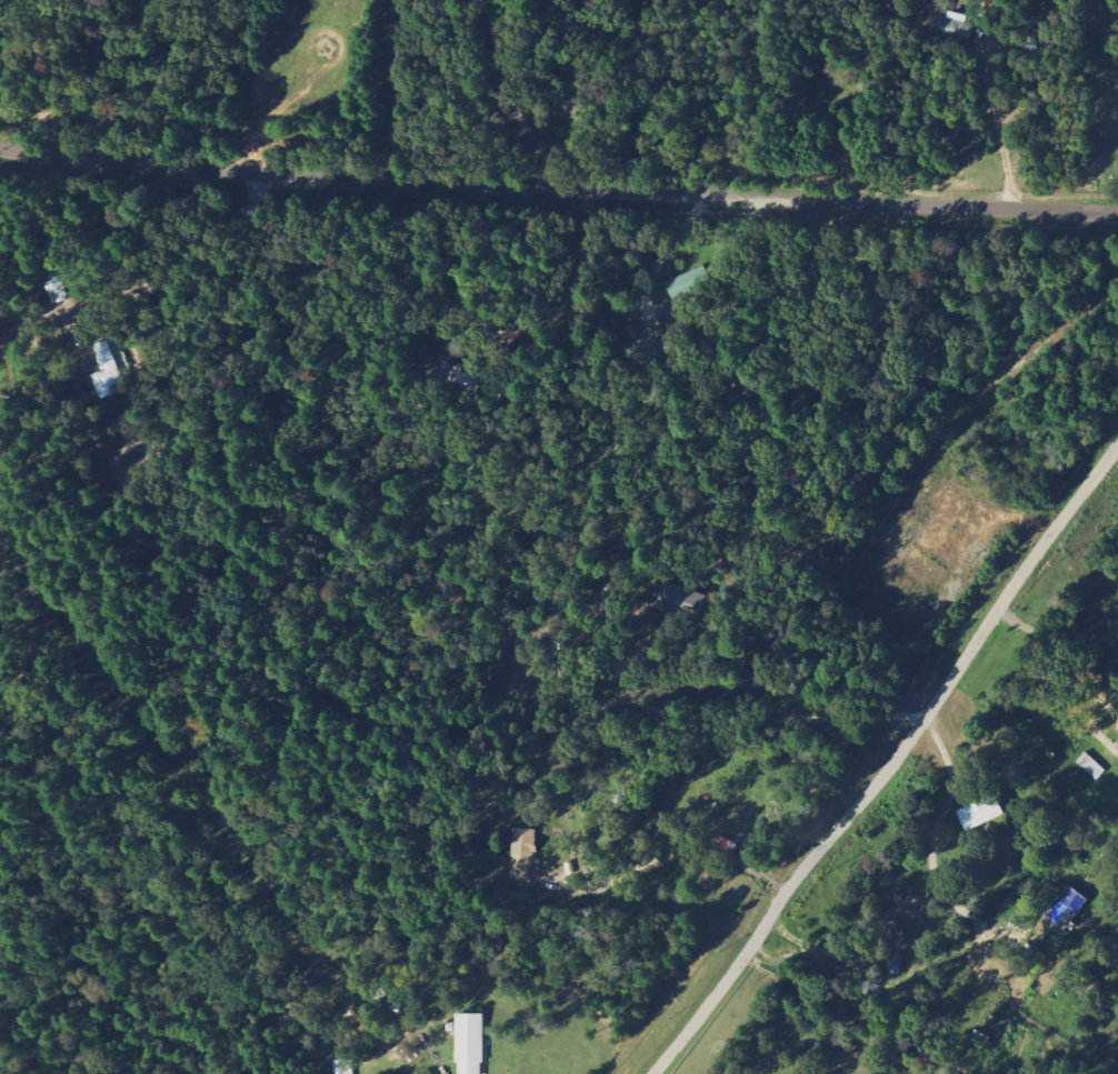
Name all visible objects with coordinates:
building: (952, 29)
road: (588, 92)
road: (558, 183)
building: (56, 291)
road: (9, 355)
building: (102, 373)
building: (455, 382)
building: (676, 601)
road: (894, 762)
building: (1092, 766)
building: (981, 813)
building: (527, 852)
road: (752, 867)
building: (1069, 910)
road: (1117, 934)
road: (950, 1010)
building: (476, 1043)
road: (438, 1060)
building: (348, 1066)

